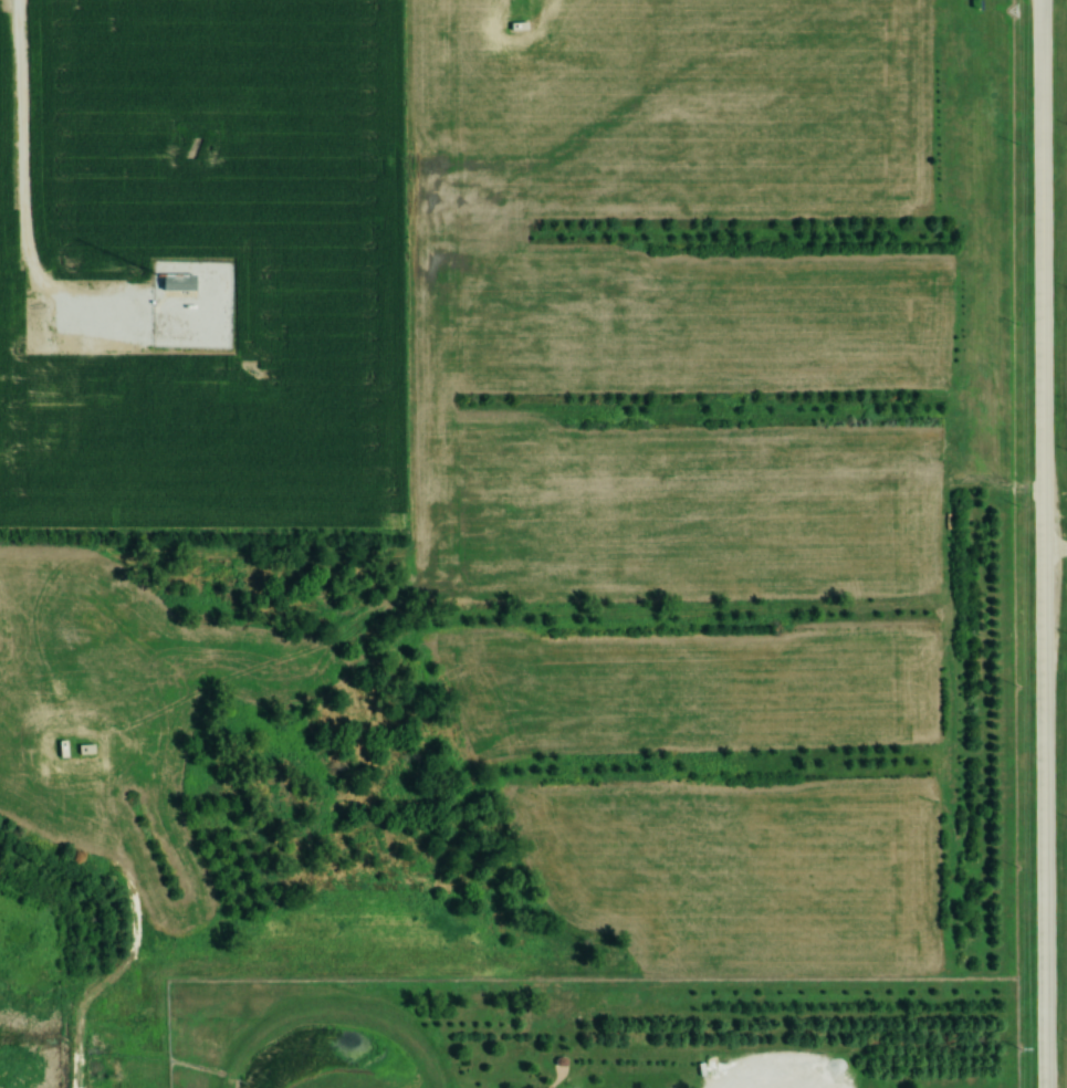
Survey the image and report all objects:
road: (21, 180)
building: (189, 283)
building: (102, 389)
building: (6, 399)
road: (1042, 544)
building: (85, 751)

